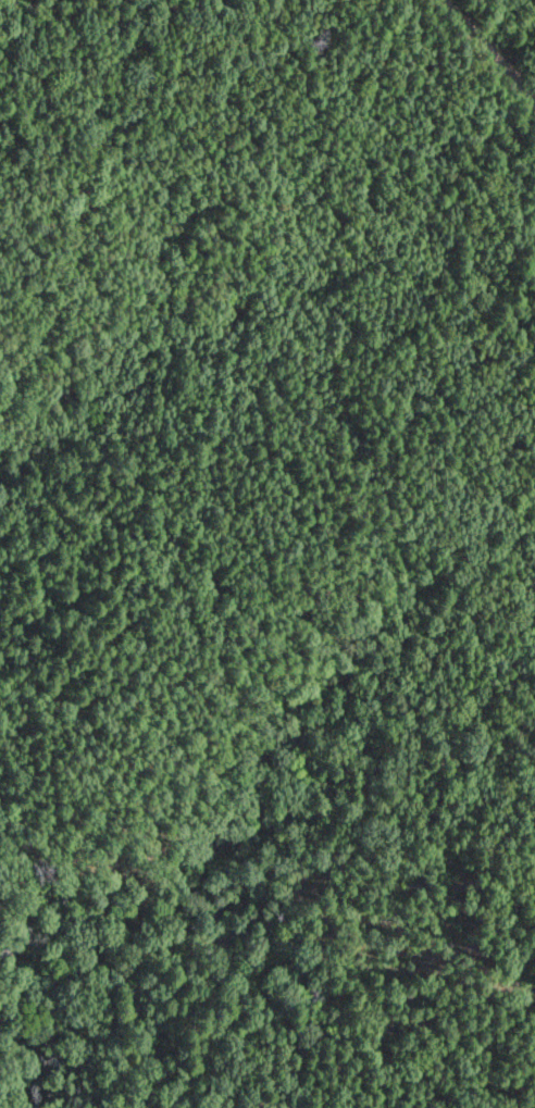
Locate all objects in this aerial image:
road: (487, 51)

